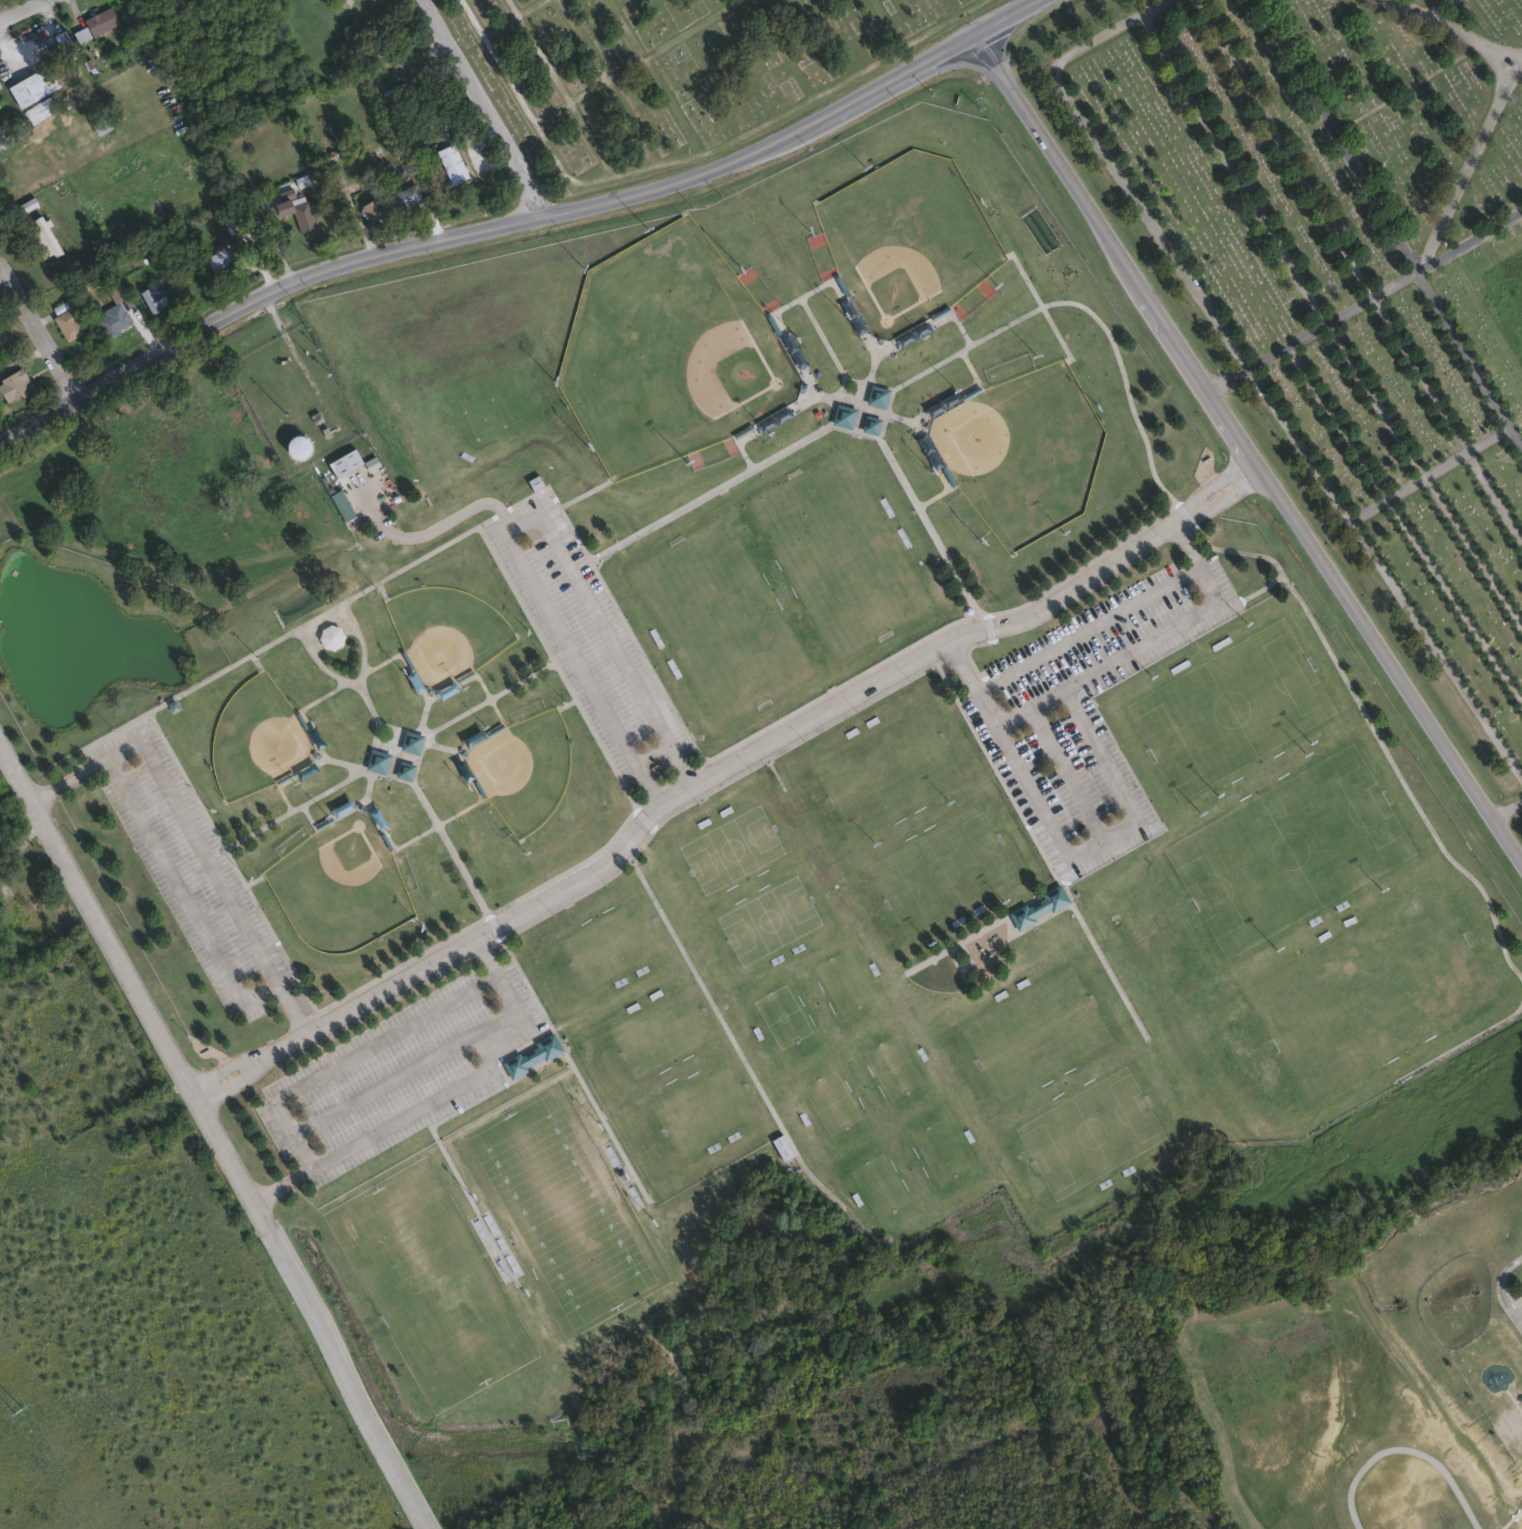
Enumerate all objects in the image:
road: (1432, 7)
road: (512, 8)
road: (21, 10)
building: (97, 20)
road: (1442, 24)
road: (495, 29)
road: (624, 29)
road: (917, 37)
building: (62, 44)
building: (48, 54)
road: (1494, 61)
park: (669, 72)
building: (29, 85)
road: (592, 87)
road: (808, 91)
road: (1399, 92)
road: (616, 102)
road: (481, 107)
building: (38, 111)
road: (574, 114)
building: (96, 120)
road: (1335, 136)
building: (2, 141)
road: (208, 142)
road: (1283, 148)
road: (706, 150)
building: (450, 162)
road: (558, 166)
road: (1232, 168)
road: (1464, 174)
building: (402, 197)
building: (370, 209)
building: (301, 216)
road: (516, 221)
building: (44, 235)
park: (905, 239)
road: (1469, 242)
building: (214, 259)
park: (1342, 282)
road: (1393, 285)
road: (815, 288)
building: (151, 297)
road: (1039, 304)
road: (1347, 310)
building: (112, 313)
building: (65, 317)
road: (813, 324)
road: (959, 328)
road: (38, 333)
road: (1305, 333)
park: (668, 351)
road: (1265, 356)
road: (1248, 372)
road: (972, 374)
road: (1225, 377)
building: (12, 384)
road: (891, 388)
road: (1126, 391)
road: (820, 396)
building: (876, 397)
road: (861, 407)
road: (859, 409)
road: (883, 413)
building: (843, 416)
building: (869, 424)
building: (294, 446)
road: (1245, 450)
park: (1021, 451)
road: (776, 454)
building: (342, 463)
building: (369, 463)
road: (1444, 464)
road: (1473, 464)
road: (1215, 482)
road: (584, 492)
road: (1226, 496)
road: (931, 498)
road: (1394, 507)
road: (1368, 508)
road: (536, 512)
road: (672, 513)
road: (926, 525)
road: (476, 526)
road: (1187, 543)
park: (838, 553)
road: (380, 589)
road: (347, 613)
park: (720, 620)
park: (444, 633)
parking lot: (587, 634)
building: (328, 635)
road: (255, 650)
road: (253, 660)
road: (520, 680)
road: (353, 683)
road: (1064, 688)
road: (488, 698)
road: (367, 703)
road: (568, 703)
park: (1231, 707)
parking lot: (1085, 713)
road: (422, 714)
road: (1013, 715)
road: (456, 717)
road: (400, 728)
road: (114, 730)
park: (256, 739)
building: (409, 741)
road: (438, 747)
road: (393, 751)
road: (392, 756)
building: (378, 761)
road: (346, 763)
road: (678, 763)
road: (721, 765)
park: (521, 768)
park: (886, 770)
road: (1106, 770)
road: (1401, 780)
road: (186, 781)
road: (647, 783)
road: (367, 784)
road: (284, 799)
road: (1506, 807)
road: (291, 809)
road: (307, 815)
building: (375, 819)
road: (436, 824)
road: (191, 833)
road: (447, 845)
park: (731, 849)
park: (1291, 850)
road: (1039, 852)
parking lot: (189, 868)
road: (236, 868)
park: (942, 870)
park: (339, 884)
road: (183, 895)
building: (1036, 910)
building: (17, 913)
road: (485, 916)
park: (768, 920)
road: (981, 928)
park: (612, 942)
park: (843, 981)
park: (1369, 990)
park: (781, 1015)
park: (661, 1032)
park: (1035, 1032)
road: (731, 1039)
road: (1460, 1043)
building: (530, 1055)
road: (547, 1060)
road: (231, 1064)
park: (891, 1067)
parking lot: (403, 1069)
road: (404, 1071)
road: (239, 1078)
park: (831, 1102)
park: (703, 1107)
road: (605, 1126)
park: (1089, 1132)
road: (215, 1137)
road: (297, 1144)
building: (779, 1146)
park: (938, 1150)
road: (280, 1184)
park: (878, 1185)
park: (561, 1209)
park: (429, 1283)
road: (1499, 1287)
building: (1495, 1375)

